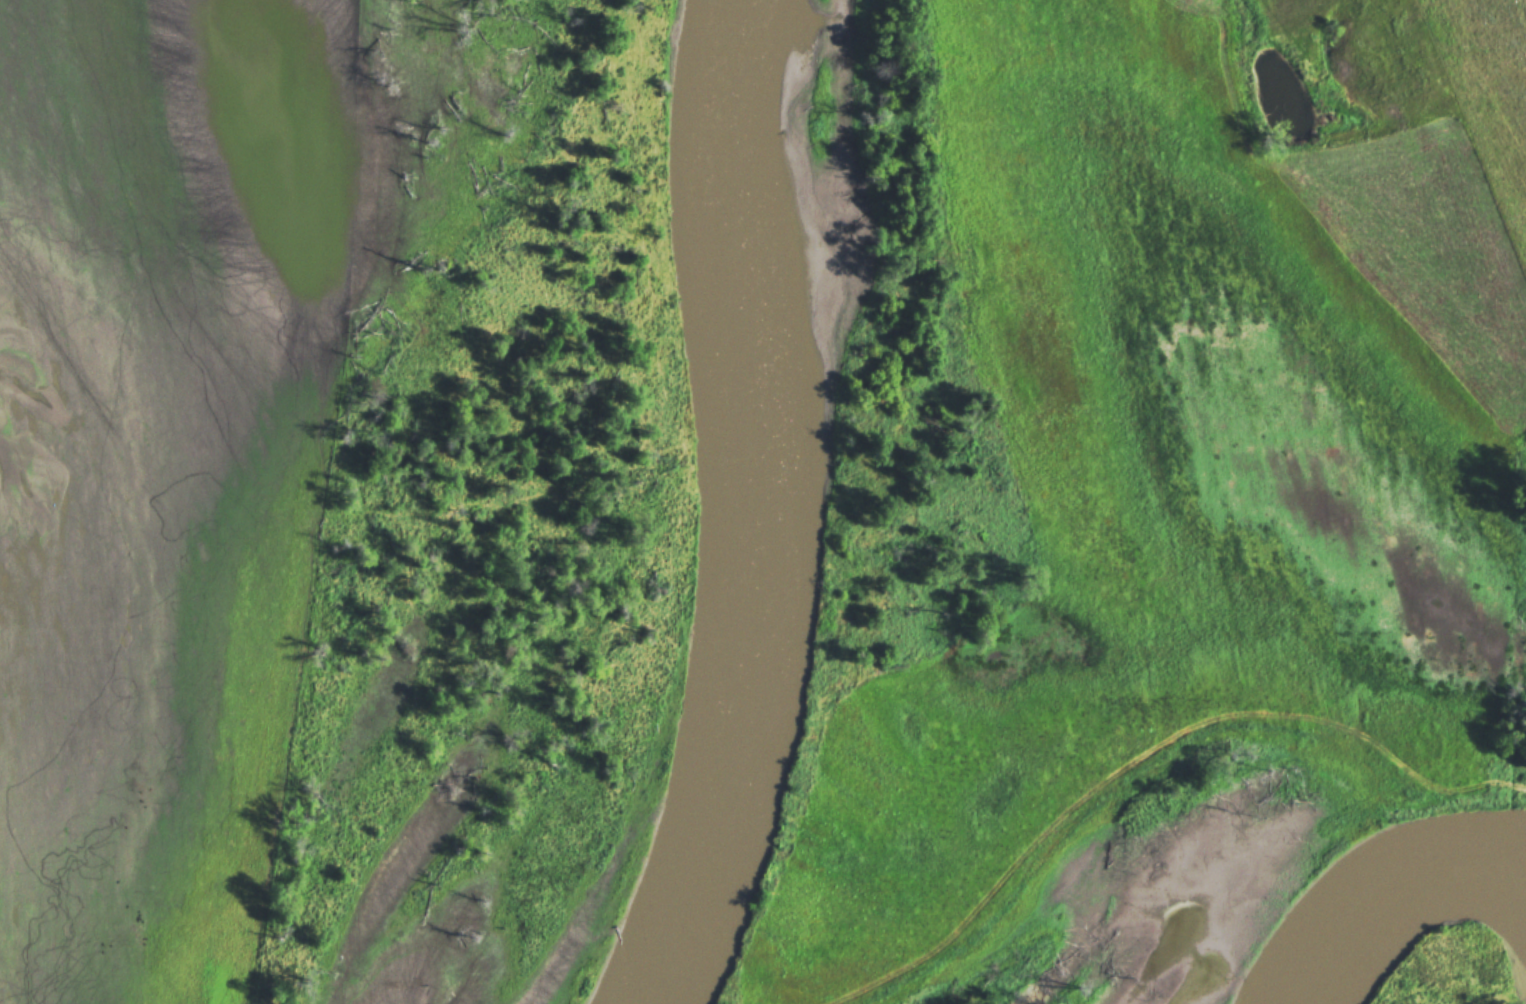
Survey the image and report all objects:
river: (765, 512)
river: (1377, 902)

